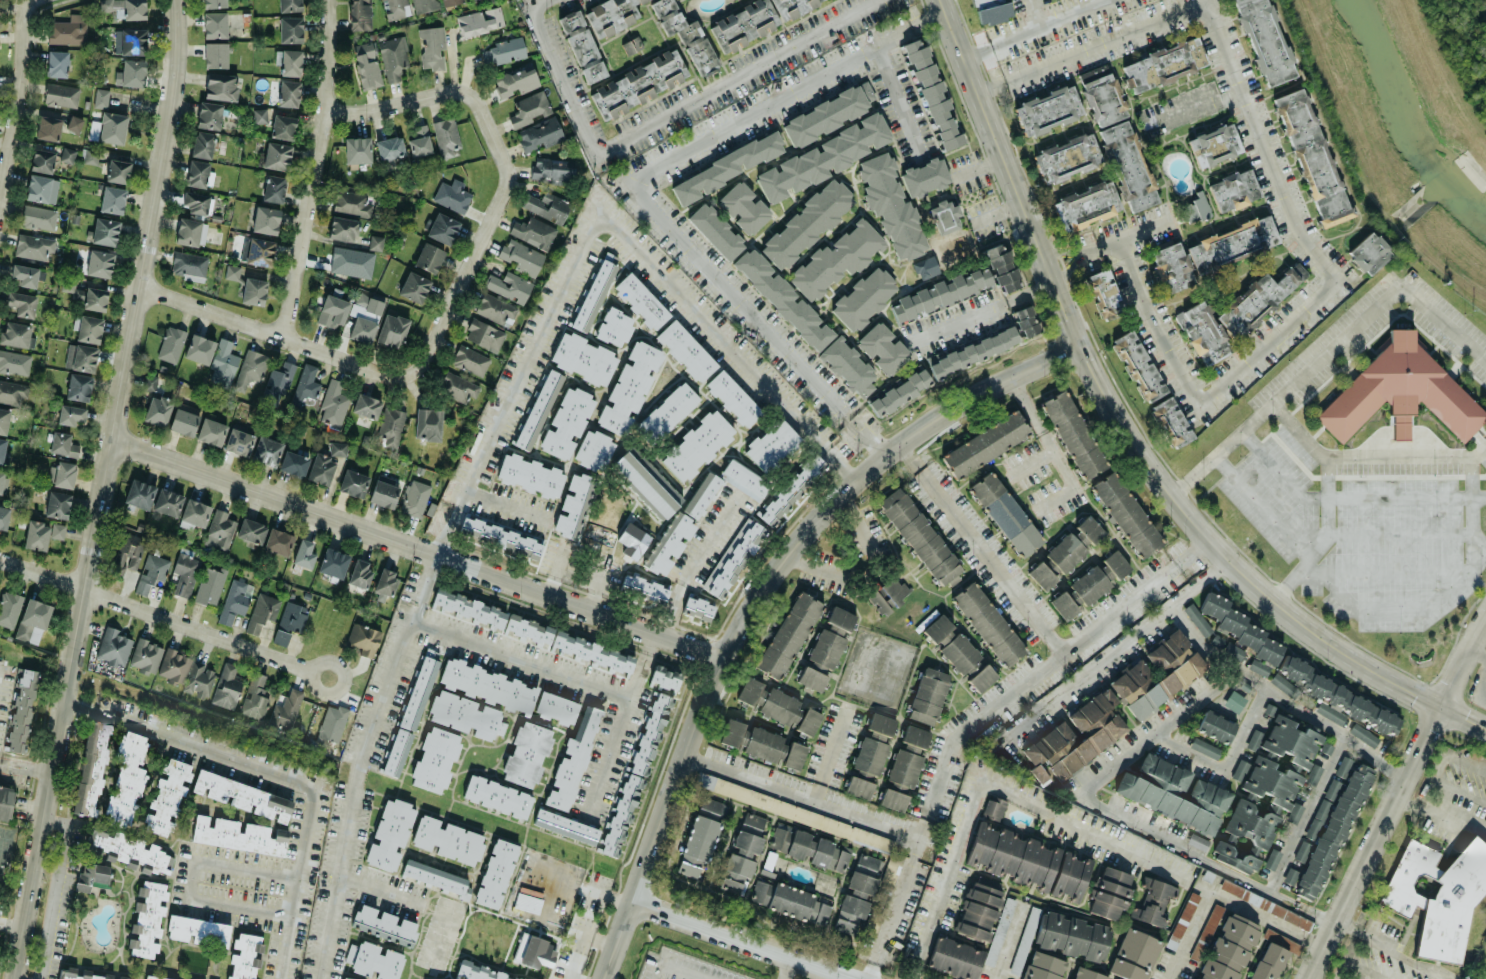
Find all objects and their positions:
building: (451, 2)
building: (213, 3)
building: (289, 5)
building: (424, 5)
building: (791, 6)
building: (124, 8)
building: (395, 8)
building: (991, 10)
building: (360, 14)
road: (1034, 14)
building: (611, 15)
building: (479, 20)
building: (214, 24)
building: (744, 24)
building: (67, 29)
building: (290, 29)
road: (1035, 29)
building: (686, 35)
building: (130, 41)
building: (1263, 41)
park: (1462, 44)
building: (582, 46)
building: (432, 47)
building: (504, 51)
building: (215, 54)
building: (393, 57)
building: (290, 62)
building: (56, 63)
building: (1163, 64)
building: (366, 65)
building: (130, 73)
building: (515, 81)
building: (637, 84)
building: (220, 86)
building: (288, 93)
building: (61, 95)
building: (933, 95)
building: (100, 98)
road: (898, 100)
road: (19, 103)
building: (528, 108)
building: (1047, 110)
road: (1191, 110)
building: (829, 113)
building: (208, 115)
building: (260, 115)
road: (662, 117)
building: (74, 124)
building: (282, 126)
building: (49, 128)
building: (108, 128)
river: (1400, 129)
building: (1115, 131)
building: (539, 134)
building: (446, 137)
building: (419, 141)
building: (202, 144)
building: (1214, 145)
building: (389, 147)
building: (357, 149)
building: (67, 154)
building: (91, 156)
building: (276, 156)
building: (824, 157)
building: (1312, 157)
building: (1066, 158)
building: (42, 160)
road: (978, 164)
road: (507, 166)
building: (724, 168)
road: (316, 169)
building: (117, 170)
building: (552, 171)
road: (1009, 172)
building: (198, 174)
building: (41, 188)
building: (273, 188)
building: (1233, 189)
road: (632, 190)
building: (452, 195)
building: (899, 198)
building: (112, 199)
building: (195, 202)
building: (351, 202)
road: (1287, 204)
building: (1086, 205)
building: (547, 206)
building: (1194, 206)
building: (744, 207)
building: (945, 216)
building: (38, 217)
road: (997, 217)
building: (265, 219)
road: (601, 223)
building: (806, 223)
building: (441, 227)
building: (342, 228)
building: (105, 231)
building: (190, 231)
building: (715, 231)
building: (533, 232)
road: (1125, 236)
building: (375, 242)
building: (33, 246)
building: (1213, 250)
building: (257, 251)
road: (1060, 253)
building: (1369, 253)
building: (521, 256)
building: (428, 257)
building: (836, 259)
building: (351, 262)
building: (100, 263)
building: (189, 265)
building: (925, 267)
building: (1002, 268)
road: (1067, 269)
building: (231, 271)
building: (23, 274)
building: (509, 285)
building: (414, 287)
building: (253, 291)
building: (594, 293)
building: (942, 293)
building: (1104, 293)
building: (88, 296)
building: (863, 298)
building: (783, 299)
building: (640, 300)
building: (21, 303)
building: (497, 309)
building: (333, 311)
building: (1236, 312)
road: (982, 313)
building: (364, 317)
building: (1026, 321)
road: (1444, 321)
building: (613, 327)
building: (87, 328)
building: (392, 330)
building: (15, 333)
road: (277, 334)
building: (484, 335)
building: (170, 343)
building: (883, 347)
building: (199, 348)
building: (686, 350)
building: (80, 357)
building: (584, 358)
building: (470, 360)
building: (14, 362)
building: (222, 363)
building: (1138, 365)
building: (848, 366)
building: (250, 368)
building: (278, 383)
building: (305, 385)
building: (78, 387)
building: (629, 387)
building: (460, 388)
road: (1285, 389)
building: (12, 391)
building: (1400, 392)
building: (732, 398)
building: (333, 404)
building: (366, 406)
road: (1037, 406)
building: (537, 409)
building: (157, 410)
building: (667, 412)
building: (70, 414)
building: (3, 420)
building: (183, 421)
building: (1171, 421)
building: (566, 422)
building: (427, 424)
building: (391, 425)
building: (211, 431)
building: (1073, 434)
building: (238, 442)
building: (62, 444)
building: (985, 444)
building: (697, 445)
building: (772, 445)
building: (337, 448)
building: (2, 449)
building: (266, 450)
building: (594, 450)
road: (1407, 455)
building: (293, 463)
road: (842, 463)
building: (320, 469)
building: (61, 474)
building: (530, 475)
building: (744, 479)
building: (3, 480)
road: (1082, 480)
building: (353, 483)
building: (644, 485)
building: (791, 488)
road: (103, 490)
building: (383, 493)
road: (1252, 493)
building: (138, 494)
building: (701, 494)
road: (1349, 496)
building: (414, 497)
road: (1325, 499)
building: (167, 502)
building: (57, 504)
building: (573, 505)
road: (505, 508)
road: (1471, 510)
building: (194, 514)
building: (1005, 514)
building: (1126, 514)
building: (3, 517)
building: (219, 529)
building: (1089, 529)
building: (251, 530)
building: (41, 533)
road: (1380, 534)
building: (919, 535)
building: (500, 536)
building: (632, 539)
road: (1478, 540)
building: (278, 542)
road: (563, 542)
building: (670, 543)
road: (987, 546)
road: (419, 548)
road: (431, 552)
building: (1065, 552)
building: (127, 553)
building: (304, 553)
building: (733, 557)
road: (1478, 558)
building: (333, 562)
road: (692, 563)
building: (1115, 563)
road: (1391, 570)
building: (151, 572)
road: (868, 572)
building: (359, 573)
building: (185, 574)
road: (1245, 574)
building: (1041, 575)
building: (385, 582)
road: (598, 582)
road: (1200, 583)
building: (210, 585)
building: (644, 586)
building: (1079, 592)
building: (888, 594)
road: (760, 597)
building: (235, 600)
building: (9, 607)
building: (697, 608)
road: (1371, 608)
building: (469, 609)
building: (262, 611)
building: (291, 617)
road: (163, 618)
building: (840, 618)
building: (32, 620)
building: (1197, 620)
building: (988, 623)
building: (527, 629)
building: (937, 630)
road: (1193, 633)
building: (1242, 633)
building: (788, 635)
building: (280, 637)
building: (363, 638)
building: (113, 646)
road: (651, 646)
building: (826, 648)
road: (1478, 651)
building: (590, 652)
building: (961, 654)
building: (145, 655)
road: (520, 659)
building: (173, 665)
building: (1179, 672)
building: (981, 677)
building: (198, 678)
building: (666, 678)
building: (811, 678)
building: (1282, 684)
building: (487, 685)
building: (226, 686)
road: (1479, 687)
building: (419, 688)
building: (750, 694)
building: (927, 695)
building: (254, 697)
building: (1337, 697)
building: (556, 707)
building: (781, 707)
building: (286, 709)
building: (21, 710)
building: (465, 715)
road: (985, 718)
building: (808, 721)
building: (331, 723)
building: (1215, 726)
building: (731, 732)
building: (1363, 734)
road: (615, 736)
building: (915, 738)
building: (1074, 738)
building: (772, 747)
building: (1205, 747)
building: (395, 752)
building: (527, 753)
road: (837, 754)
building: (869, 755)
building: (434, 760)
building: (572, 761)
road: (1228, 764)
road: (27, 766)
building: (904, 767)
building: (1239, 770)
building: (91, 772)
building: (1313, 773)
building: (633, 774)
road: (280, 776)
building: (125, 781)
road: (352, 786)
building: (858, 787)
road: (805, 788)
building: (1173, 792)
building: (1266, 795)
building: (242, 796)
building: (496, 796)
road: (1397, 797)
building: (167, 798)
building: (892, 799)
building: (5, 801)
building: (712, 805)
building: (994, 807)
building: (795, 811)
road: (1307, 815)
road: (1123, 816)
road: (1441, 818)
road: (1080, 824)
building: (565, 826)
building: (1332, 831)
building: (238, 834)
building: (389, 834)
building: (749, 834)
building: (447, 840)
building: (1198, 840)
building: (697, 845)
building: (807, 847)
building: (1271, 858)
building: (1029, 861)
building: (495, 873)
building: (735, 873)
building: (92, 875)
road: (947, 876)
building: (437, 877)
building: (1289, 877)
road: (191, 879)
road: (61, 889)
road: (380, 891)
building: (1109, 893)
road: (1222, 894)
building: (1437, 894)
building: (857, 895)
road: (548, 898)
building: (791, 901)
building: (1153, 901)
building: (527, 902)
building: (1265, 904)
building: (984, 916)
building: (147, 918)
building: (384, 924)
building: (1210, 924)
road: (1350, 924)
building: (198, 930)
road: (747, 938)
building: (1024, 940)
road: (1009, 944)
building: (1063, 944)
building: (1228, 948)
building: (533, 951)
building: (1134, 955)
building: (1270, 955)
road: (1403, 955)
building: (245, 956)
building: (955, 958)
building: (374, 960)
road: (1354, 961)
road: (789, 967)
road: (675, 968)
building: (479, 972)
building: (76, 974)
building: (1087, 974)
building: (153, 977)
building: (121, 978)
building: (345, 978)
building: (425, 978)

